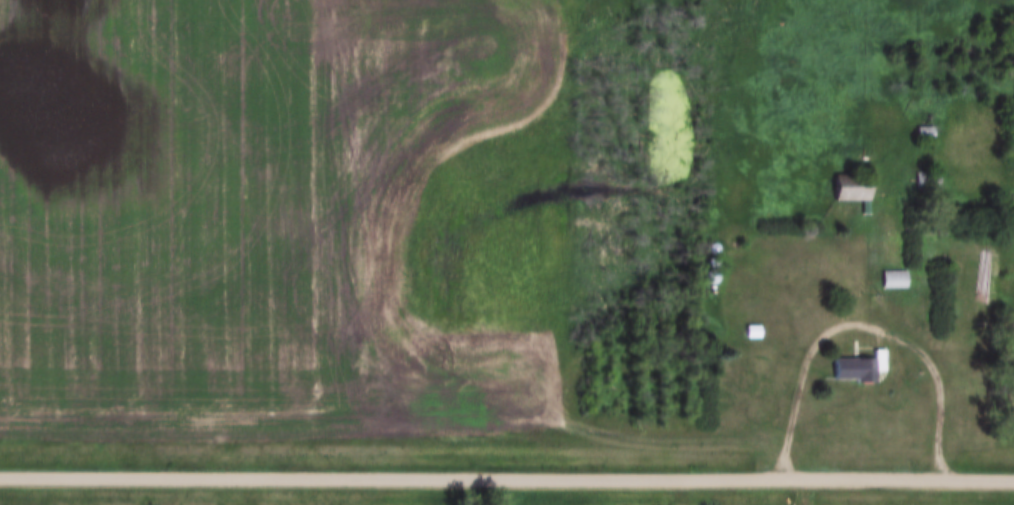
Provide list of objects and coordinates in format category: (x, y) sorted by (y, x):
building: (922, 133)
building: (926, 180)
building: (848, 187)
building: (892, 278)
road: (867, 321)
building: (856, 368)
road: (507, 477)

